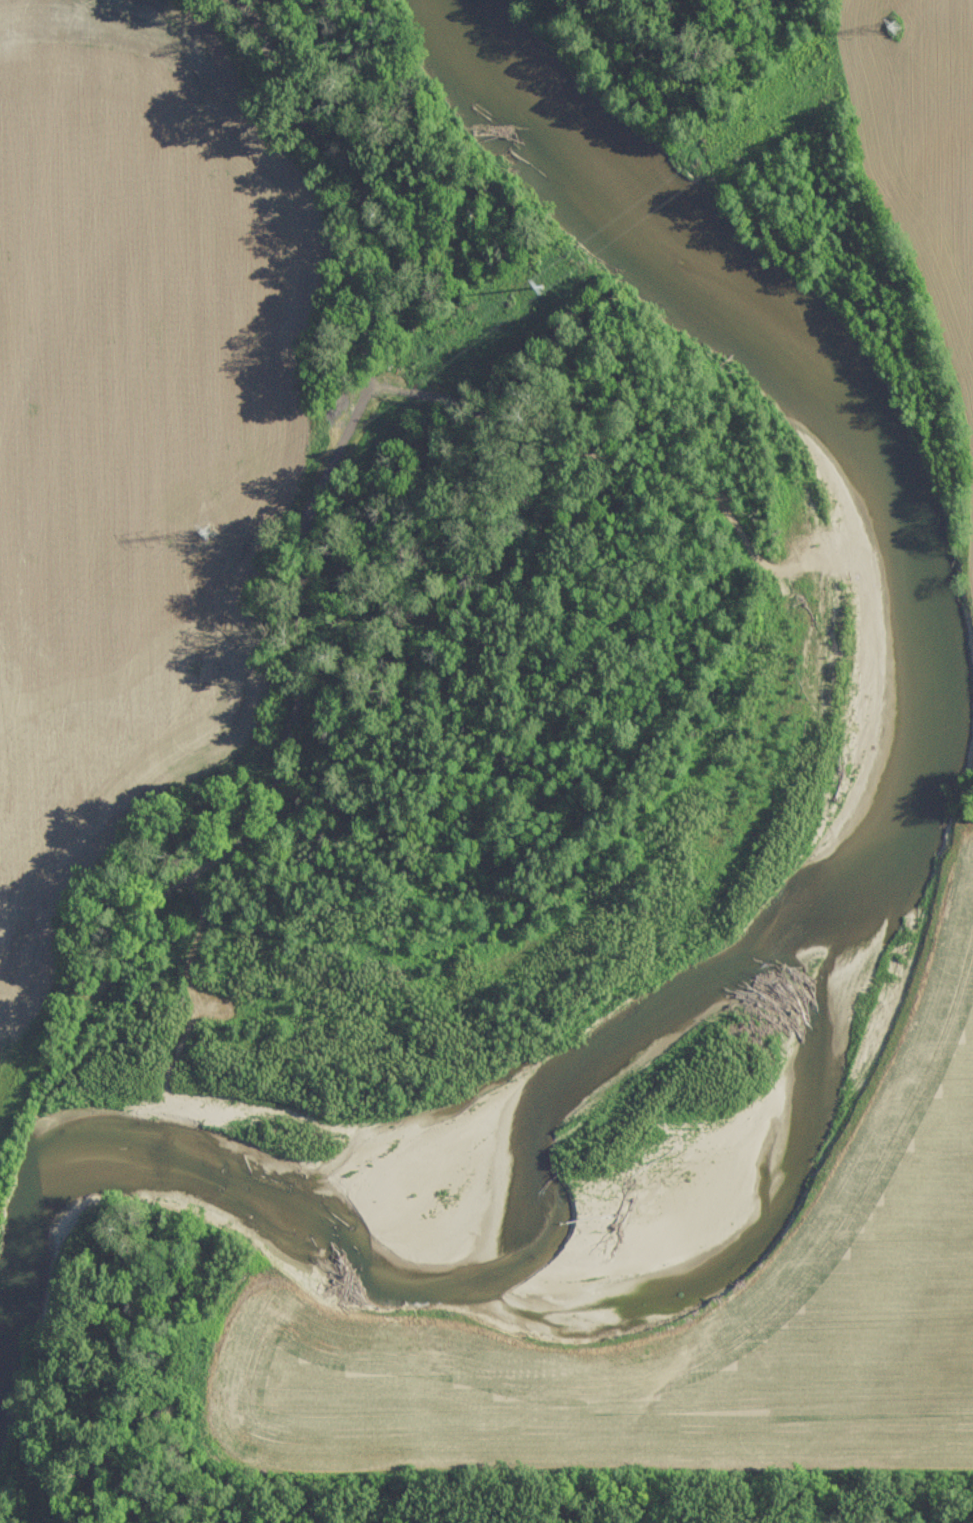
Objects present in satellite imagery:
power tower: (891, 27)
power tower: (557, 263)
power tower: (211, 521)
river: (854, 874)

